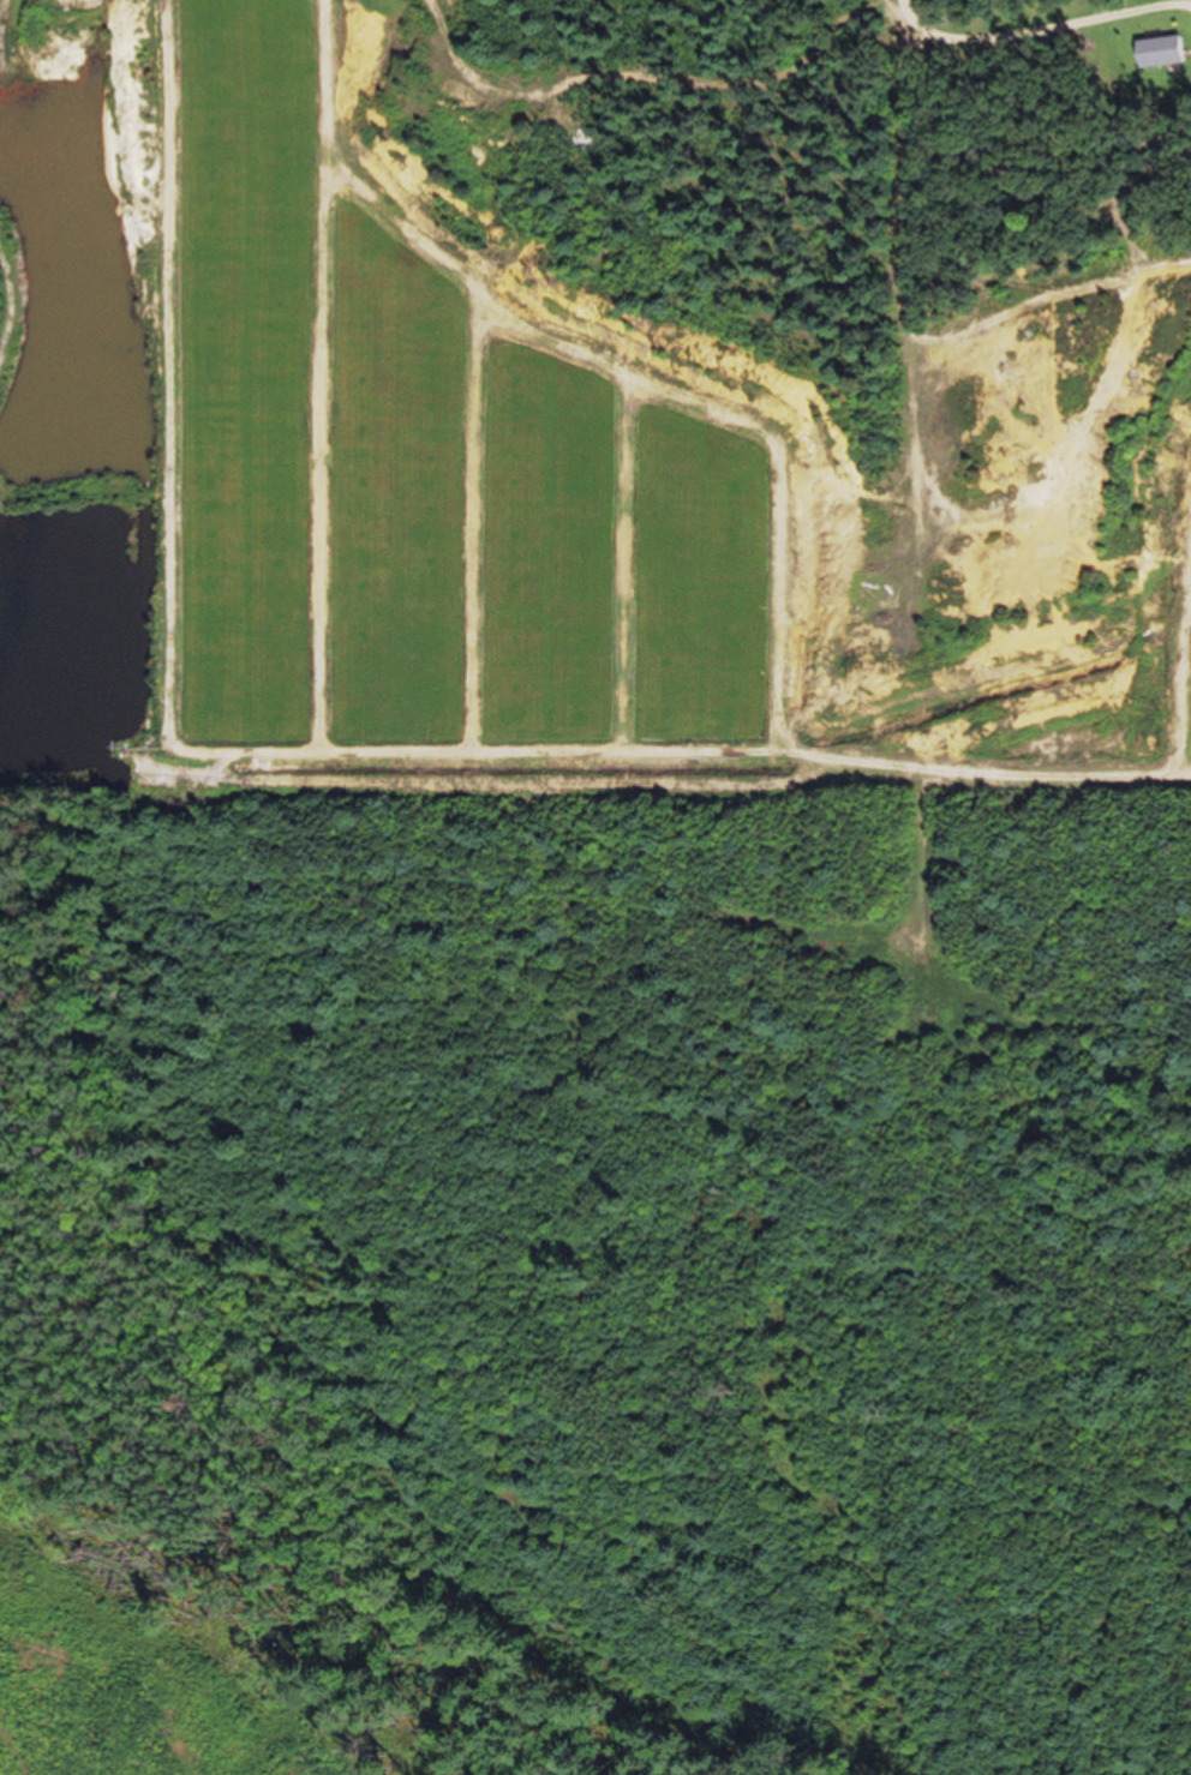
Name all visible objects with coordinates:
road: (1028, 25)

